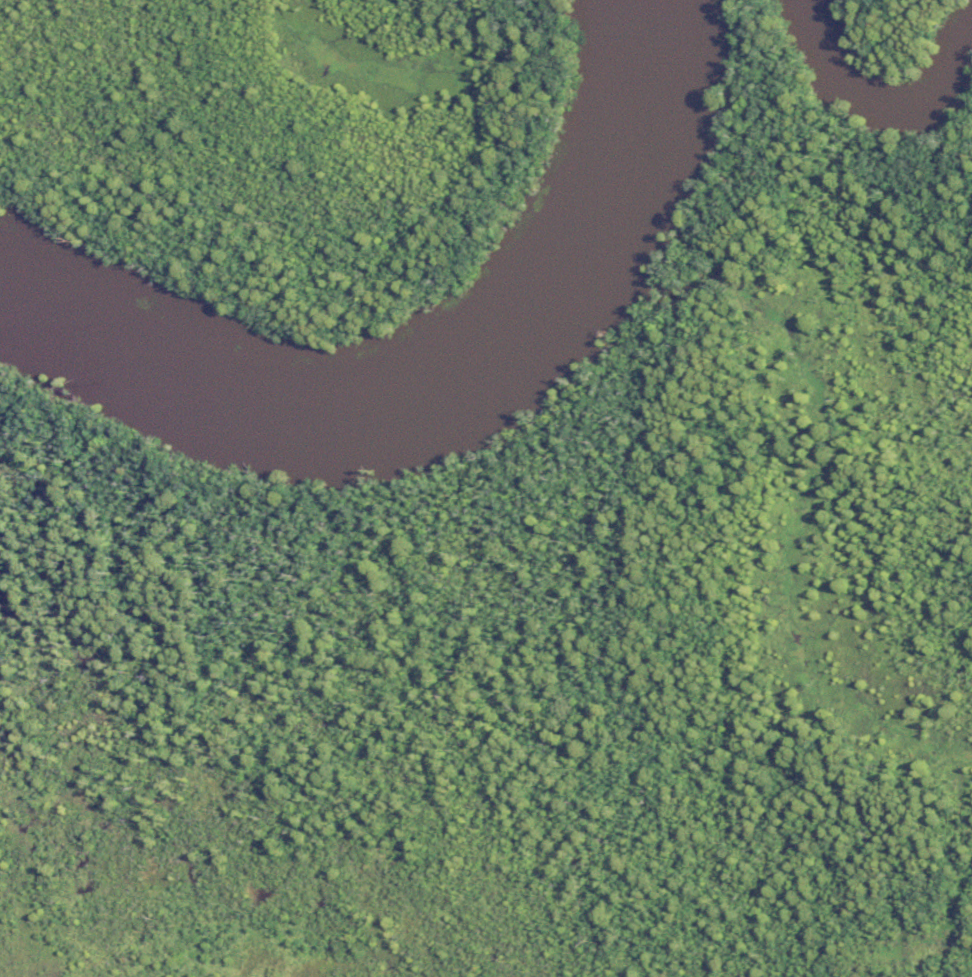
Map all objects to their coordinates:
river: (876, 101)

